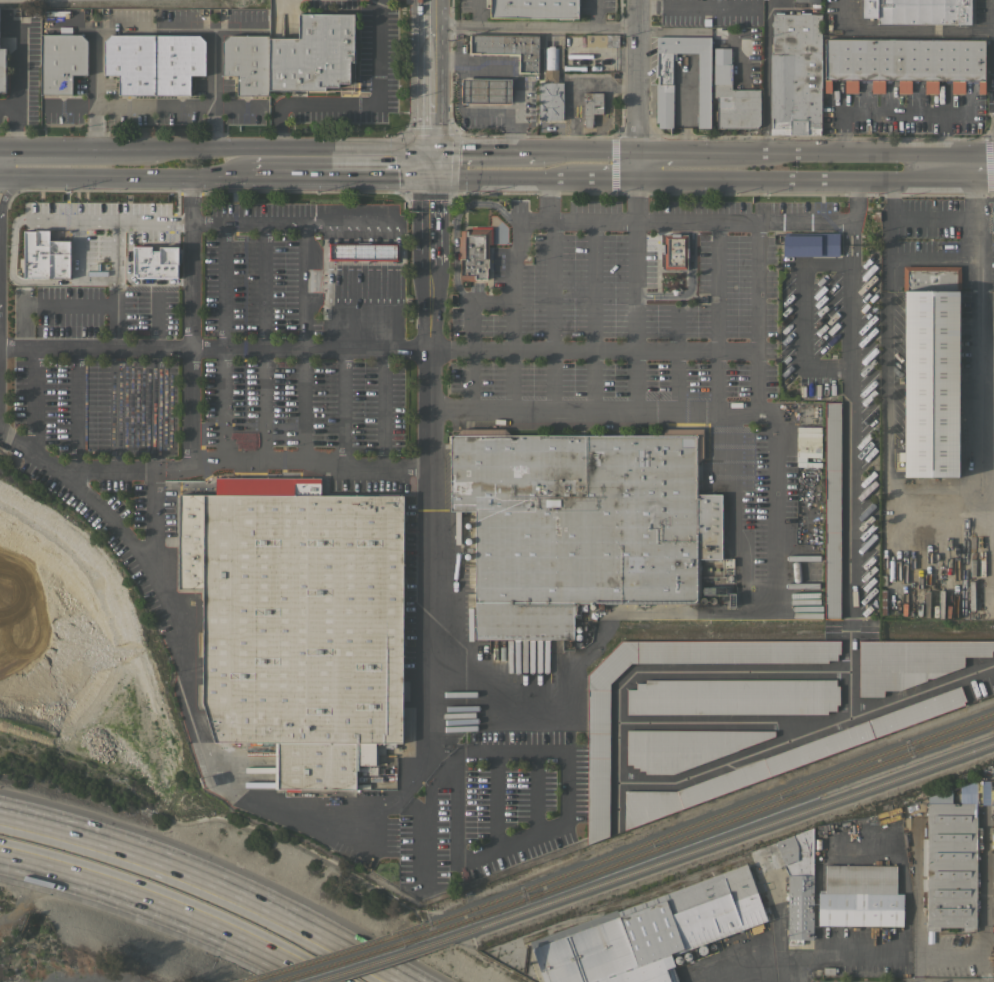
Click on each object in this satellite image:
building: (806, 0)
road: (699, 5)
building: (533, 8)
building: (918, 11)
road: (476, 12)
road: (190, 21)
road: (537, 25)
road: (908, 30)
building: (601, 40)
building: (488, 44)
building: (524, 52)
building: (313, 53)
road: (212, 59)
building: (540, 60)
building: (61, 61)
road: (93, 61)
building: (131, 62)
building: (177, 62)
building: (904, 62)
building: (247, 63)
building: (2, 70)
building: (795, 73)
road: (516, 79)
building: (665, 79)
road: (433, 82)
road: (766, 82)
road: (639, 83)
gas station: (490, 88)
building: (550, 89)
building: (486, 91)
gas station: (486, 91)
road: (569, 94)
building: (733, 96)
road: (68, 106)
road: (178, 106)
road: (362, 106)
building: (591, 106)
road: (892, 113)
road: (12, 119)
road: (2, 147)
road: (70, 147)
road: (276, 147)
road: (2, 158)
road: (422, 163)
traffic signals: (433, 164)
road: (484, 164)
road: (540, 165)
road: (558, 165)
road: (604, 165)
road: (694, 166)
road: (803, 167)
road: (891, 167)
road: (960, 168)
road: (207, 173)
road: (191, 198)
building: (992, 215)
road: (933, 217)
road: (563, 219)
road: (697, 219)
building: (810, 244)
road: (74, 246)
road: (12, 250)
road: (115, 251)
building: (362, 251)
building: (675, 251)
gas station: (361, 252)
building: (474, 252)
building: (45, 253)
road: (933, 257)
building: (153, 262)
road: (756, 272)
road: (130, 280)
road: (715, 286)
road: (302, 287)
road: (511, 298)
road: (47, 306)
road: (551, 314)
road: (590, 315)
road: (803, 315)
road: (155, 322)
road: (468, 332)
road: (190, 342)
road: (222, 342)
road: (263, 343)
road: (214, 348)
road: (624, 351)
building: (930, 370)
road: (33, 399)
road: (342, 406)
road: (382, 406)
road: (75, 409)
road: (115, 409)
road: (155, 409)
road: (561, 410)
road: (851, 414)
road: (774, 438)
road: (430, 446)
building: (806, 446)
road: (266, 463)
road: (386, 464)
road: (90, 471)
road: (937, 492)
building: (832, 509)
road: (113, 523)
building: (581, 524)
road: (154, 529)
building: (984, 586)
building: (302, 621)
building: (911, 661)
building: (733, 697)
building: (684, 747)
building: (598, 760)
building: (784, 760)
road: (567, 783)
road: (536, 792)
road: (240, 796)
railway: (711, 819)
road: (427, 829)
railway: (716, 830)
railway: (720, 839)
road: (449, 842)
building: (950, 863)
road: (212, 878)
building: (798, 884)
building: (860, 896)
road: (162, 909)
building: (650, 933)
railway: (339, 952)
road: (949, 952)
road: (836, 953)
railway: (359, 957)
railway: (381, 961)
railway: (246, 981)

